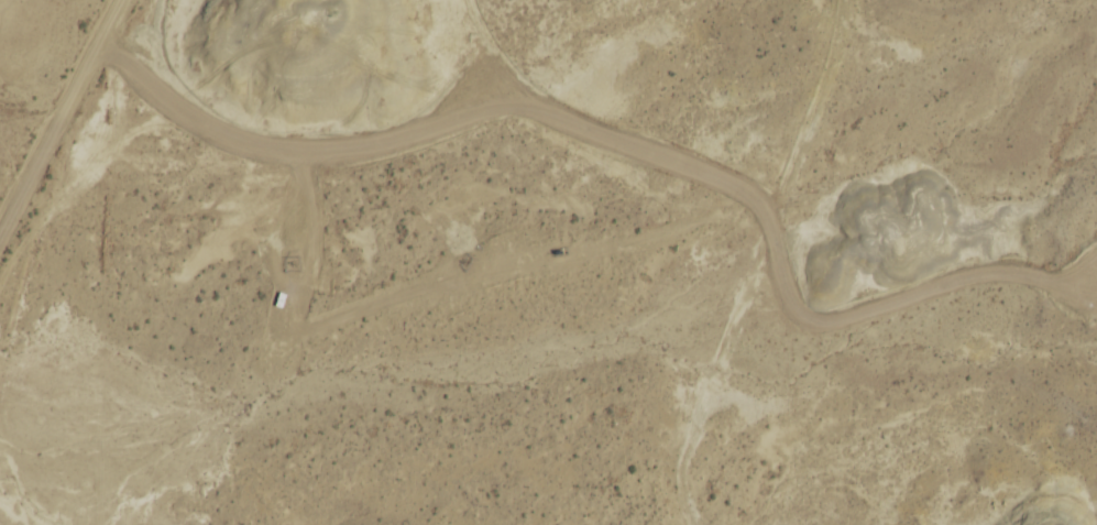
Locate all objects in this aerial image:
road: (58, 116)

